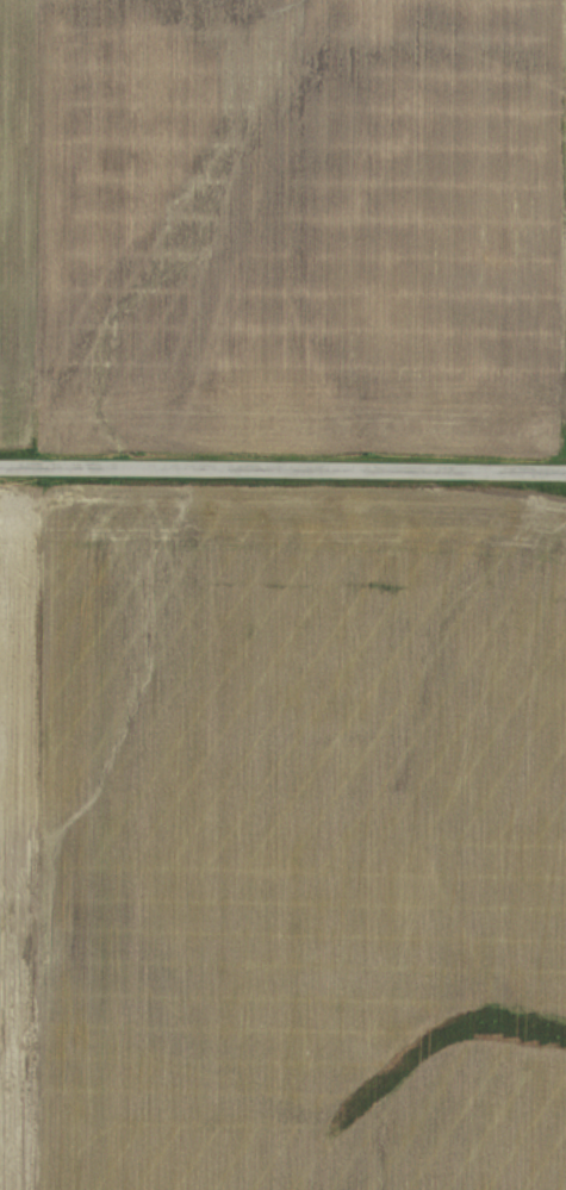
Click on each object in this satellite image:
road: (282, 459)

